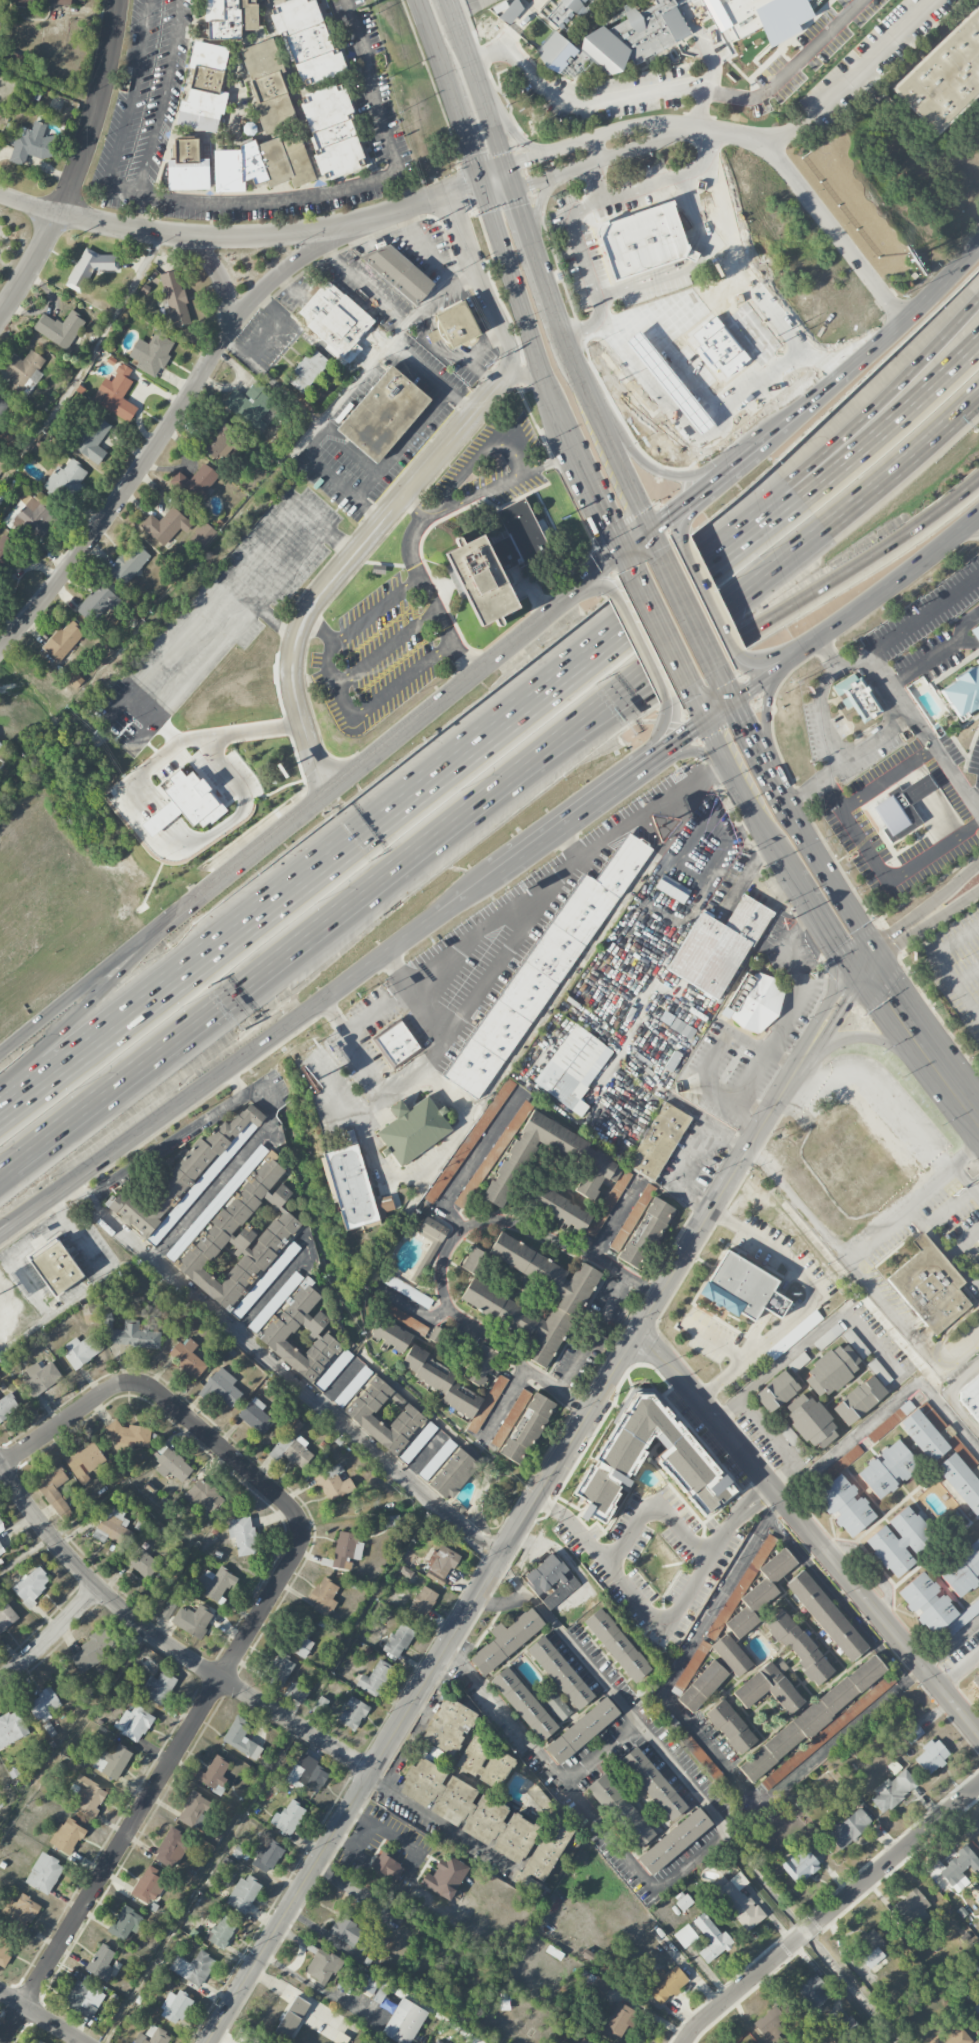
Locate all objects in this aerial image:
building: (47, 3)
building: (508, 10)
building: (564, 12)
building: (230, 18)
road: (826, 33)
building: (636, 35)
building: (307, 41)
building: (559, 54)
building: (667, 55)
road: (862, 62)
building: (945, 76)
building: (268, 86)
building: (203, 89)
road: (161, 98)
road: (606, 98)
road: (698, 106)
building: (332, 130)
road: (512, 134)
road: (780, 136)
road: (593, 138)
building: (31, 143)
road: (707, 149)
road: (701, 152)
traffic signals: (472, 157)
traffic signals: (529, 159)
road: (599, 161)
road: (78, 163)
building: (262, 164)
building: (187, 166)
road: (598, 169)
road: (597, 182)
road: (642, 183)
road: (466, 188)
traffic signals: (463, 190)
road: (641, 190)
road: (810, 200)
road: (247, 202)
traffic signals: (521, 205)
road: (540, 206)
road: (211, 236)
building: (643, 240)
road: (582, 244)
building: (90, 267)
road: (541, 268)
road: (287, 270)
building: (399, 273)
road: (649, 276)
road: (511, 279)
road: (361, 281)
road: (715, 285)
building: (174, 299)
road: (602, 304)
building: (335, 317)
building: (453, 325)
building: (60, 329)
road: (270, 331)
road: (384, 348)
building: (151, 353)
road: (460, 359)
road: (420, 364)
road: (850, 364)
building: (306, 369)
building: (23, 373)
road: (524, 377)
building: (115, 393)
road: (887, 394)
building: (252, 405)
building: (382, 413)
road: (891, 421)
road: (702, 430)
building: (92, 439)
building: (219, 439)
road: (402, 442)
road: (729, 443)
road: (151, 449)
road: (476, 457)
street lamp: (773, 458)
road: (902, 461)
road: (550, 463)
road: (656, 470)
road: (329, 471)
building: (66, 479)
building: (195, 483)
road: (701, 488)
road: (409, 490)
road: (475, 494)
road: (414, 507)
traffic signals: (671, 514)
road: (667, 516)
building: (30, 517)
road: (760, 517)
road: (682, 519)
road: (763, 523)
building: (165, 525)
traffic signals: (610, 525)
building: (532, 528)
road: (966, 534)
building: (202, 535)
road: (636, 543)
road: (654, 545)
building: (5, 548)
traffic signals: (658, 552)
road: (870, 555)
street lamp: (755, 557)
road: (786, 558)
building: (129, 562)
road: (630, 565)
building: (497, 570)
road: (602, 573)
road: (232, 578)
road: (596, 587)
road: (885, 592)
street lamp: (717, 593)
road: (667, 594)
road: (707, 597)
building: (97, 602)
road: (263, 610)
road: (375, 611)
road: (247, 613)
road: (689, 613)
road: (921, 615)
road: (662, 632)
building: (975, 632)
road: (688, 634)
building: (63, 640)
street lamp: (540, 644)
road: (638, 646)
road: (387, 648)
road: (935, 653)
road: (761, 663)
road: (414, 672)
street lamp: (604, 675)
road: (759, 681)
street lamp: (789, 682)
road: (724, 685)
building: (963, 690)
building: (857, 698)
traffic signals: (693, 700)
road: (695, 704)
road: (903, 708)
road: (765, 710)
road: (717, 711)
road: (609, 717)
traffic signals: (744, 723)
road: (224, 726)
road: (662, 730)
traffic signals: (687, 732)
road: (680, 737)
road: (872, 739)
road: (546, 744)
building: (0, 745)
road: (829, 746)
road: (693, 751)
road: (759, 751)
road: (654, 756)
road: (368, 760)
street lamp: (392, 760)
road: (885, 777)
street lamp: (563, 779)
street lamp: (456, 792)
building: (194, 797)
road: (745, 799)
building: (900, 807)
road: (573, 816)
road: (577, 836)
street lamp: (253, 870)
road: (565, 870)
road: (883, 874)
road: (305, 876)
road: (826, 876)
road: (715, 879)
building: (672, 889)
street lamp: (420, 890)
road: (466, 893)
street lamp: (313, 904)
road: (926, 907)
street lamp: (160, 908)
road: (819, 922)
road: (930, 927)
traffic signals: (895, 932)
building: (717, 947)
traffic signals: (836, 950)
road: (877, 954)
road: (860, 958)
street lamp: (143, 963)
road: (945, 963)
road: (405, 966)
parking lot: (956, 966)
building: (543, 969)
road: (968, 973)
road: (871, 974)
road: (854, 978)
traffic signals: (897, 982)
road: (233, 992)
road: (80, 994)
street lamp: (279, 1001)
building: (754, 1002)
road: (793, 1004)
traffic signals: (847, 1005)
street lamp: (179, 1007)
road: (978, 1010)
road: (917, 1012)
road: (82, 1014)
road: (882, 1017)
road: (835, 1023)
road: (813, 1025)
road: (856, 1037)
building: (396, 1043)
street lamp: (20, 1049)
road: (255, 1049)
road: (715, 1055)
road: (923, 1058)
building: (573, 1067)
road: (800, 1073)
road: (236, 1083)
road: (884, 1090)
street lamp: (68, 1092)
road: (960, 1093)
road: (264, 1096)
building: (413, 1130)
building: (469, 1140)
building: (658, 1141)
road: (693, 1153)
building: (601, 1164)
street lamp: (49, 1178)
road: (392, 1179)
building: (183, 1180)
road: (966, 1184)
building: (354, 1187)
road: (64, 1192)
building: (608, 1203)
road: (912, 1205)
building: (559, 1208)
road: (28, 1214)
road: (28, 1219)
building: (236, 1231)
building: (646, 1233)
building: (432, 1235)
road: (563, 1245)
road: (840, 1258)
road: (11, 1260)
building: (473, 1260)
building: (56, 1264)
road: (101, 1267)
building: (421, 1270)
road: (441, 1271)
building: (265, 1279)
building: (929, 1285)
building: (743, 1287)
road: (813, 1300)
building: (503, 1309)
road: (591, 1331)
building: (129, 1334)
road: (814, 1335)
road: (25, 1336)
building: (391, 1336)
road: (714, 1340)
road: (956, 1349)
building: (81, 1350)
building: (187, 1358)
building: (480, 1365)
building: (333, 1370)
building: (832, 1370)
road: (283, 1376)
building: (41, 1378)
building: (221, 1388)
building: (452, 1388)
building: (776, 1391)
road: (951, 1397)
building: (970, 1397)
building: (858, 1400)
building: (7, 1406)
road: (884, 1409)
building: (358, 1411)
building: (256, 1416)
road: (63, 1420)
building: (810, 1421)
building: (522, 1425)
building: (783, 1428)
building: (127, 1435)
building: (923, 1435)
building: (417, 1442)
road: (777, 1442)
building: (291, 1447)
building: (619, 1455)
building: (84, 1461)
building: (171, 1463)
building: (447, 1469)
building: (887, 1469)
building: (961, 1481)
building: (333, 1483)
building: (55, 1493)
building: (203, 1495)
building: (845, 1505)
road: (652, 1510)
building: (390, 1521)
building: (2, 1526)
building: (112, 1527)
road: (810, 1531)
building: (242, 1535)
building: (900, 1540)
building: (1, 1549)
building: (346, 1550)
building: (142, 1563)
building: (441, 1564)
road: (497, 1564)
building: (962, 1570)
building: (747, 1578)
building: (550, 1580)
building: (216, 1581)
building: (760, 1583)
building: (30, 1586)
road: (168, 1588)
building: (324, 1596)
building: (422, 1603)
building: (933, 1605)
building: (167, 1610)
building: (826, 1615)
building: (192, 1620)
road: (661, 1622)
road: (51, 1634)
building: (398, 1640)
building: (506, 1640)
road: (568, 1640)
road: (165, 1641)
building: (301, 1642)
road: (950, 1643)
building: (616, 1644)
building: (799, 1646)
building: (91, 1651)
building: (732, 1656)
road: (957, 1666)
building: (278, 1672)
building: (559, 1672)
building: (375, 1678)
building: (976, 1681)
building: (702, 1686)
building: (158, 1687)
road: (213, 1687)
building: (768, 1687)
building: (297, 1692)
road: (491, 1695)
building: (523, 1703)
building: (555, 1704)
building: (43, 1705)
building: (319, 1705)
building: (353, 1713)
building: (812, 1717)
building: (134, 1723)
building: (449, 1725)
building: (731, 1727)
building: (11, 1728)
building: (581, 1730)
building: (826, 1733)
building: (912, 1733)
building: (241, 1738)
road: (704, 1745)
road: (600, 1752)
building: (931, 1756)
building: (111, 1762)
building: (484, 1762)
road: (267, 1771)
building: (212, 1773)
building: (308, 1774)
building: (652, 1783)
building: (892, 1791)
building: (87, 1795)
building: (194, 1810)
building: (620, 1810)
building: (288, 1817)
building: (488, 1821)
road: (437, 1822)
building: (849, 1828)
building: (67, 1836)
road: (399, 1837)
road: (360, 1838)
building: (674, 1841)
building: (172, 1848)
building: (266, 1857)
building: (799, 1865)
building: (387, 1866)
building: (953, 1867)
building: (44, 1873)
road: (670, 1874)
building: (446, 1875)
building: (148, 1884)
building: (243, 1894)
building: (737, 1900)
building: (684, 1902)
building: (22, 1909)
building: (908, 1909)
road: (830, 1912)
building: (124, 1923)
building: (345, 1931)
building: (222, 1932)
building: (685, 1936)
building: (710, 1938)
building: (867, 1949)
building: (4, 1951)
building: (101, 1963)
building: (322, 1966)
building: (193, 1968)
building: (365, 1982)
building: (596, 1984)
building: (665, 1984)
building: (813, 1991)
building: (83, 1999)
building: (174, 2007)
building: (975, 2010)
building: (292, 2016)
road: (42, 2017)
building: (399, 2017)
building: (616, 2019)
building: (772, 2022)
building: (951, 2035)
building: (152, 2036)
road: (473, 2040)
building: (437, 2041)
building: (583, 2041)
building: (37, 2042)

